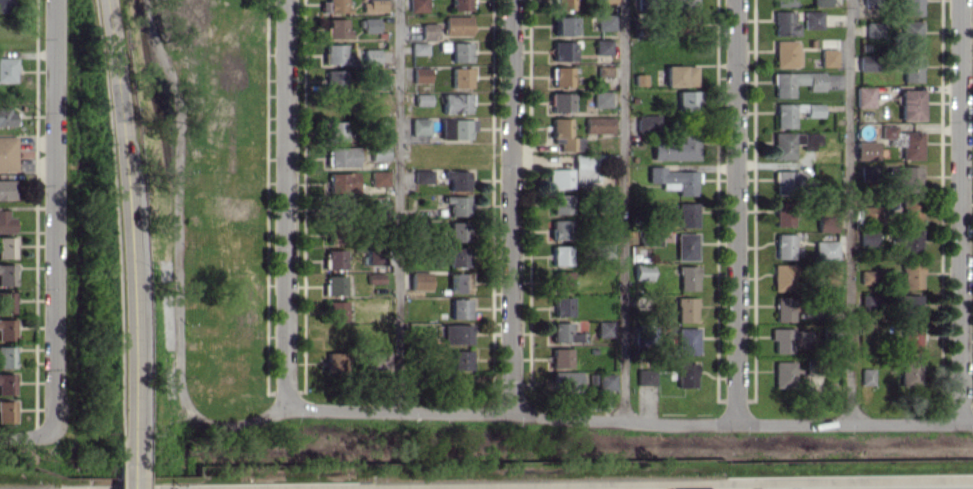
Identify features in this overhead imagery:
building: (605, 1)
building: (783, 2)
building: (820, 2)
building: (681, 3)
building: (460, 4)
building: (563, 4)
building: (373, 5)
building: (417, 5)
building: (5, 6)
building: (333, 6)
building: (910, 7)
building: (812, 19)
building: (604, 21)
building: (784, 23)
building: (368, 24)
building: (456, 25)
building: (563, 25)
building: (336, 28)
building: (873, 29)
building: (428, 30)
building: (910, 34)
building: (601, 46)
building: (418, 47)
building: (561, 50)
building: (459, 51)
building: (334, 53)
building: (786, 53)
building: (371, 56)
building: (828, 57)
building: (866, 62)
building: (911, 68)
building: (7, 69)
building: (420, 74)
building: (679, 75)
building: (561, 76)
building: (460, 77)
building: (334, 79)
building: (795, 82)
building: (864, 96)
building: (421, 99)
building: (600, 99)
building: (687, 100)
building: (455, 102)
building: (559, 102)
building: (909, 104)
building: (784, 113)
building: (6, 117)
building: (648, 122)
building: (598, 124)
building: (419, 126)
building: (455, 128)
building: (335, 130)
building: (887, 131)
building: (564, 134)
building: (791, 142)
building: (911, 145)
building: (675, 147)
building: (865, 149)
building: (378, 152)
building: (7, 153)
building: (342, 156)
building: (582, 168)
building: (867, 169)
building: (422, 176)
building: (558, 177)
building: (907, 177)
building: (378, 178)
building: (674, 178)
building: (456, 179)
building: (342, 181)
building: (788, 181)
building: (6, 189)
road: (284, 203)
building: (561, 203)
road: (398, 204)
building: (339, 205)
building: (377, 205)
building: (456, 205)
road: (511, 206)
building: (686, 207)
road: (622, 208)
building: (910, 210)
road: (734, 211)
road: (849, 211)
road: (959, 211)
building: (782, 213)
building: (868, 214)
road: (127, 216)
road: (57, 217)
building: (5, 222)
building: (826, 223)
building: (559, 229)
building: (457, 231)
building: (333, 237)
building: (866, 237)
building: (909, 240)
building: (685, 246)
building: (784, 246)
building: (6, 247)
building: (605, 249)
building: (825, 249)
road: (179, 253)
building: (560, 254)
building: (457, 256)
building: (334, 259)
building: (642, 271)
building: (830, 273)
building: (6, 274)
building: (910, 275)
building: (867, 276)
building: (687, 277)
building: (782, 277)
building: (560, 280)
building: (419, 282)
building: (458, 282)
building: (334, 284)
building: (6, 301)
building: (868, 301)
building: (561, 306)
building: (908, 307)
building: (459, 308)
building: (783, 308)
building: (685, 309)
building: (335, 310)
building: (603, 328)
building: (6, 329)
building: (563, 332)
building: (455, 333)
building: (789, 339)
building: (909, 339)
building: (687, 340)
building: (6, 356)
building: (559, 357)
building: (460, 359)
building: (376, 360)
building: (334, 361)
building: (909, 371)
building: (685, 374)
building: (783, 374)
building: (645, 376)
building: (866, 376)
building: (564, 380)
building: (605, 381)
building: (6, 383)
building: (6, 411)
road: (628, 417)
road: (28, 435)
road: (129, 461)

